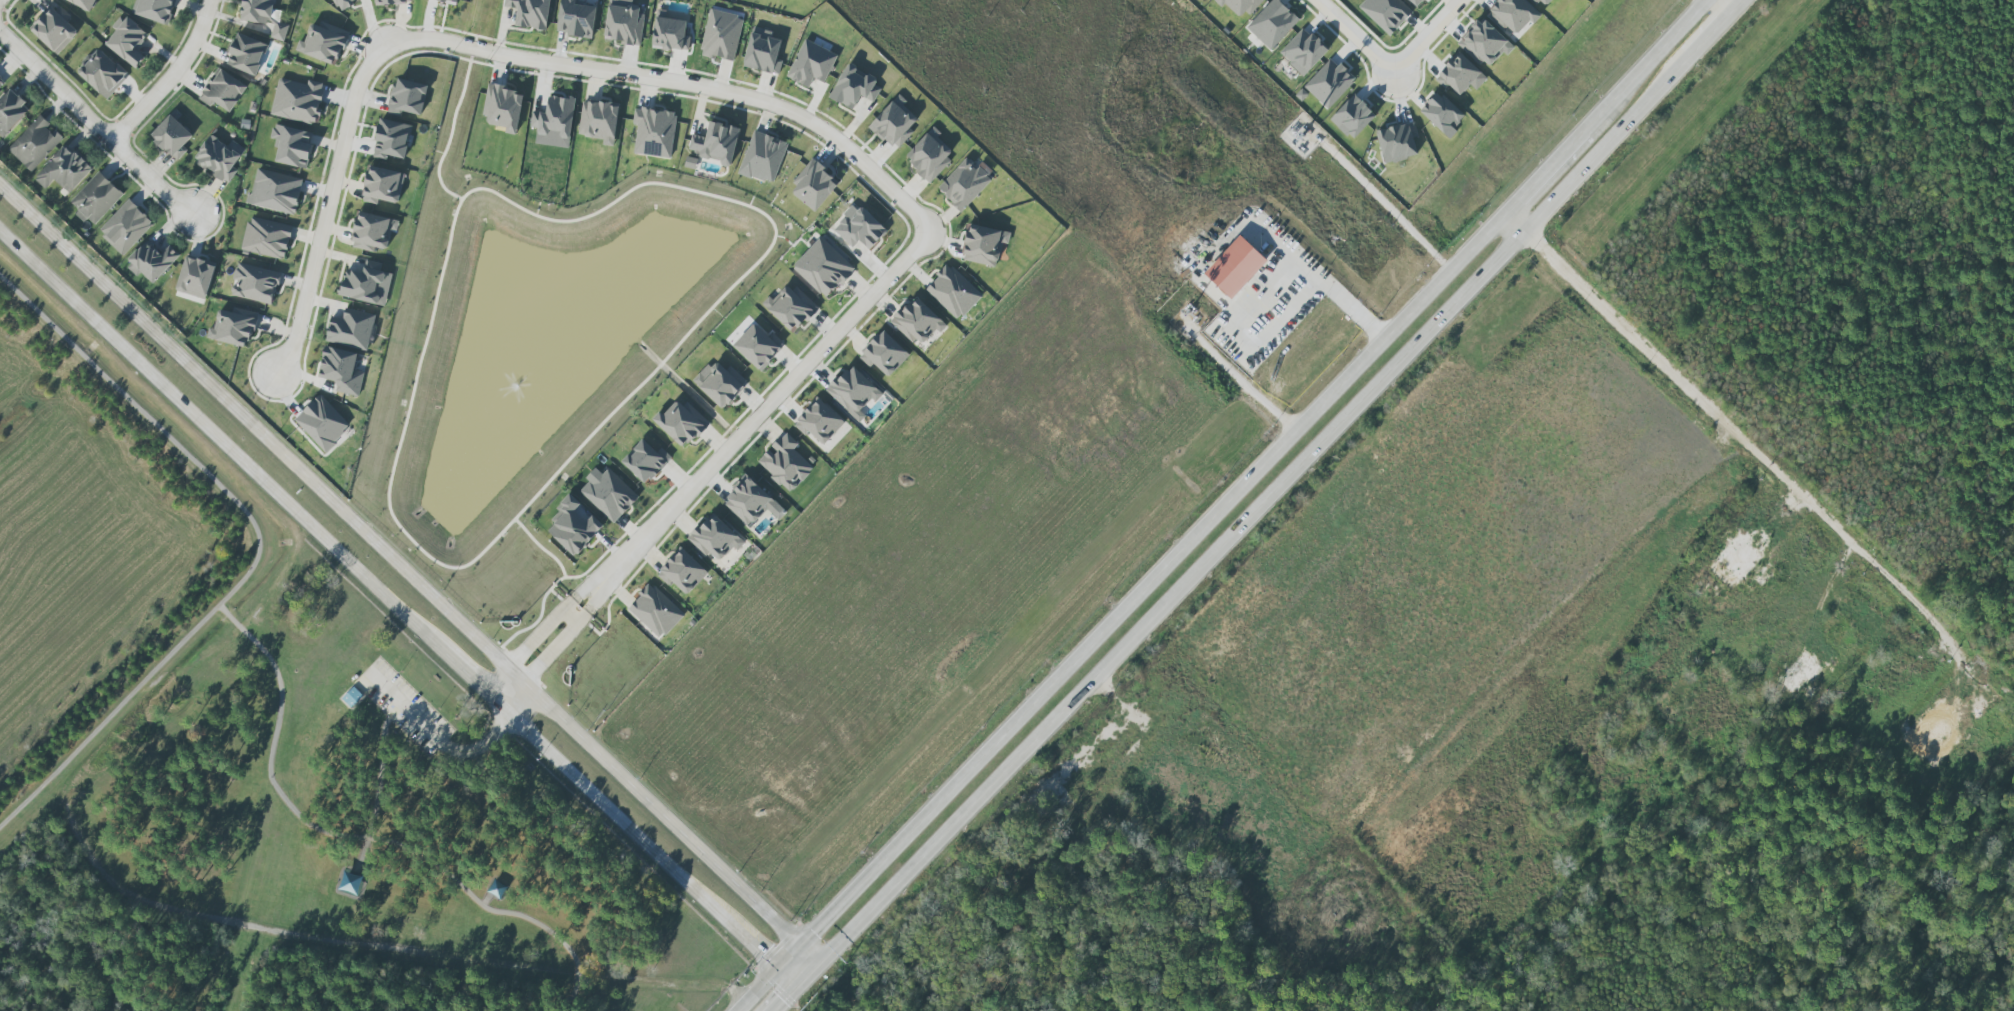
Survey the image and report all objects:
building: (392, 2)
building: (1414, 2)
building: (1542, 2)
building: (83, 3)
building: (342, 3)
road: (1737, 3)
building: (1240, 5)
building: (530, 13)
building: (1386, 13)
building: (1512, 15)
building: (264, 16)
building: (575, 19)
building: (624, 22)
building: (1271, 25)
building: (54, 31)
building: (669, 33)
building: (721, 35)
building: (127, 41)
building: (1485, 43)
building: (322, 45)
building: (1303, 51)
building: (762, 52)
building: (246, 54)
building: (811, 64)
road: (1643, 65)
building: (103, 74)
road: (169, 75)
road: (1387, 75)
building: (1460, 75)
building: (1, 82)
building: (1329, 83)
road: (681, 84)
building: (854, 87)
building: (223, 91)
building: (408, 97)
building: (298, 101)
building: (503, 108)
building: (11, 112)
building: (1442, 114)
building: (1353, 117)
building: (598, 121)
building: (554, 123)
building: (894, 123)
road: (96, 124)
building: (654, 132)
building: (172, 137)
building: (391, 140)
building: (1397, 142)
building: (35, 143)
building: (716, 143)
building: (292, 146)
building: (929, 155)
building: (763, 158)
building: (218, 159)
building: (64, 170)
road: (1543, 172)
building: (964, 184)
building: (382, 186)
building: (813, 186)
building: (275, 192)
building: (96, 199)
road: (1382, 199)
road: (325, 210)
building: (125, 227)
building: (860, 228)
building: (372, 232)
building: (266, 238)
building: (983, 245)
building: (152, 261)
building: (1235, 267)
building: (823, 268)
road: (1194, 273)
building: (196, 277)
building: (255, 283)
building: (363, 283)
building: (953, 292)
building: (790, 308)
building: (918, 322)
building: (232, 328)
building: (351, 329)
building: (757, 346)
building: (884, 354)
building: (341, 371)
building: (718, 384)
building: (853, 392)
road: (767, 408)
building: (322, 423)
building: (680, 424)
building: (821, 426)
road: (1752, 444)
building: (645, 461)
building: (785, 463)
building: (608, 494)
road: (1275, 495)
building: (749, 501)
building: (1745, 517)
building: (573, 526)
building: (715, 538)
road: (258, 549)
building: (1733, 571)
building: (682, 572)
road: (408, 575)
road: (1836, 589)
road: (398, 605)
building: (655, 611)
road: (1120, 614)
building: (1860, 615)
road: (552, 622)
road: (567, 636)
building: (1798, 677)
building: (1676, 692)
building: (351, 697)
parking lot: (403, 707)
building: (1935, 733)
road: (439, 741)
park: (353, 809)
building: (1140, 824)
building: (1078, 826)
road: (366, 841)
road: (378, 945)
traffic signals: (800, 947)
traffic signals: (817, 963)
traffic signals: (779, 968)
traffic signals: (796, 984)
road: (783, 997)

